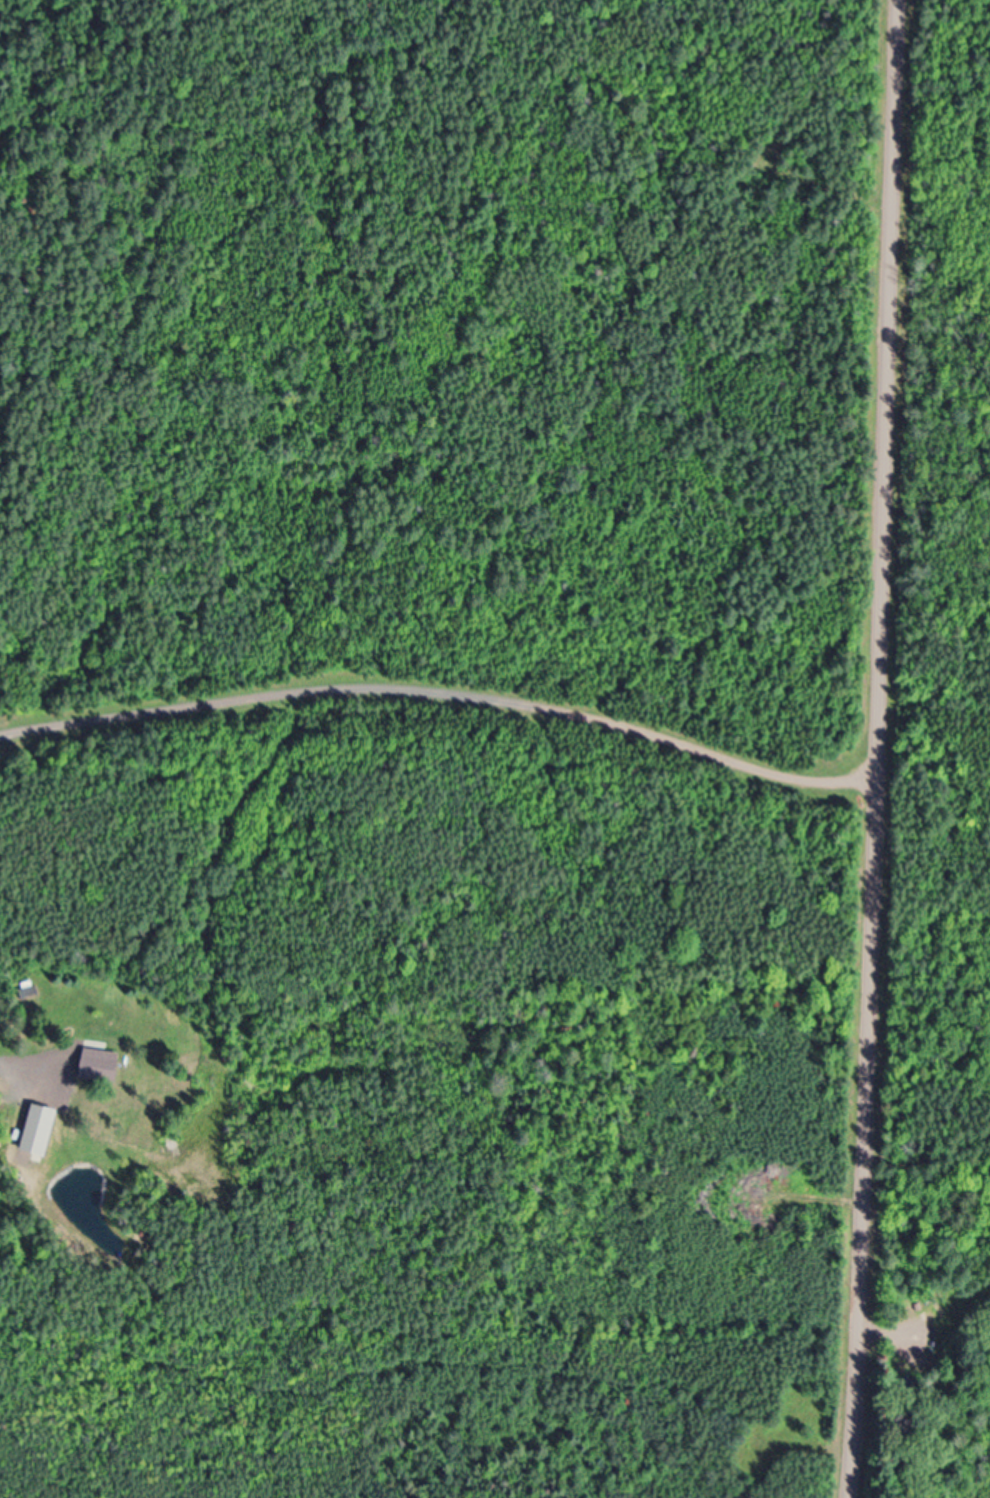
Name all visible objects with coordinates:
road: (443, 695)
road: (879, 749)
road: (32, 1064)
building: (96, 1068)
road: (926, 1312)

